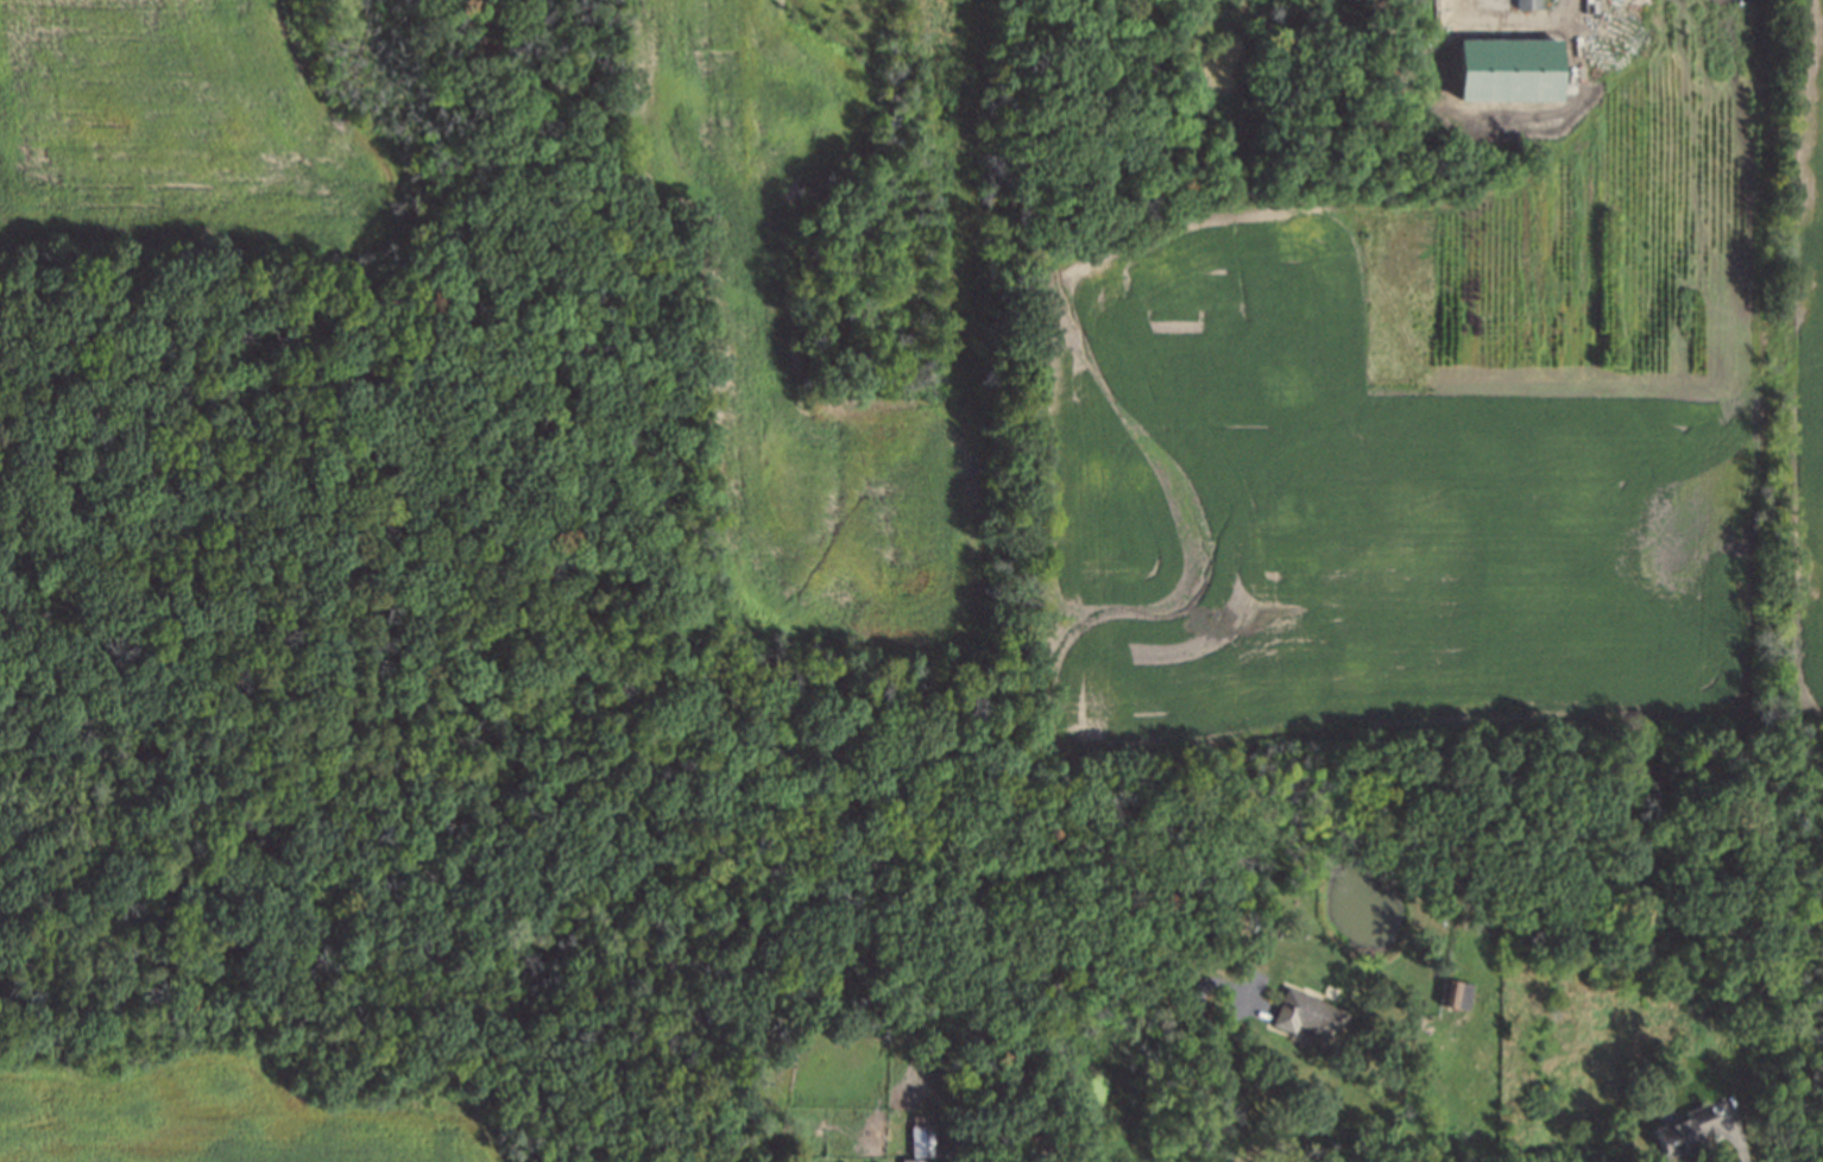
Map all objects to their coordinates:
building: (1528, 4)
road: (1532, 29)
crop: (189, 124)
crop: (795, 359)
crop: (1810, 378)
building: (1458, 994)
building: (1308, 1018)
road: (1217, 1050)
building: (1684, 1133)
building: (922, 1138)
road: (1739, 1138)

